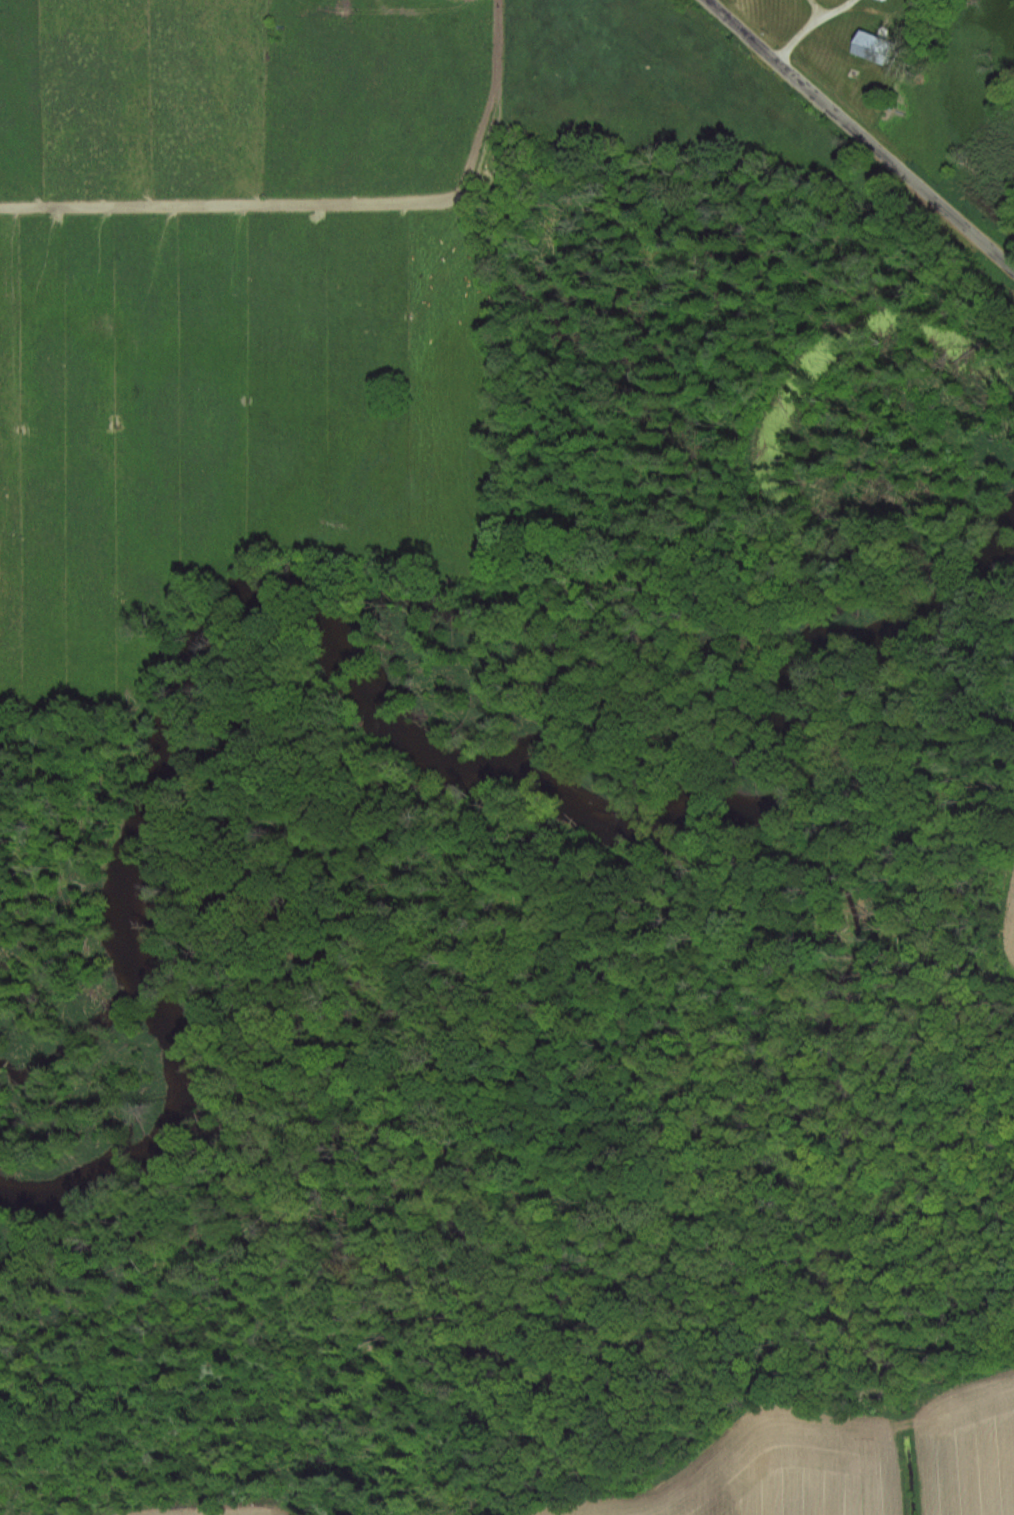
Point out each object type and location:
road: (809, 24)
building: (863, 43)
road: (859, 132)
river: (411, 755)

